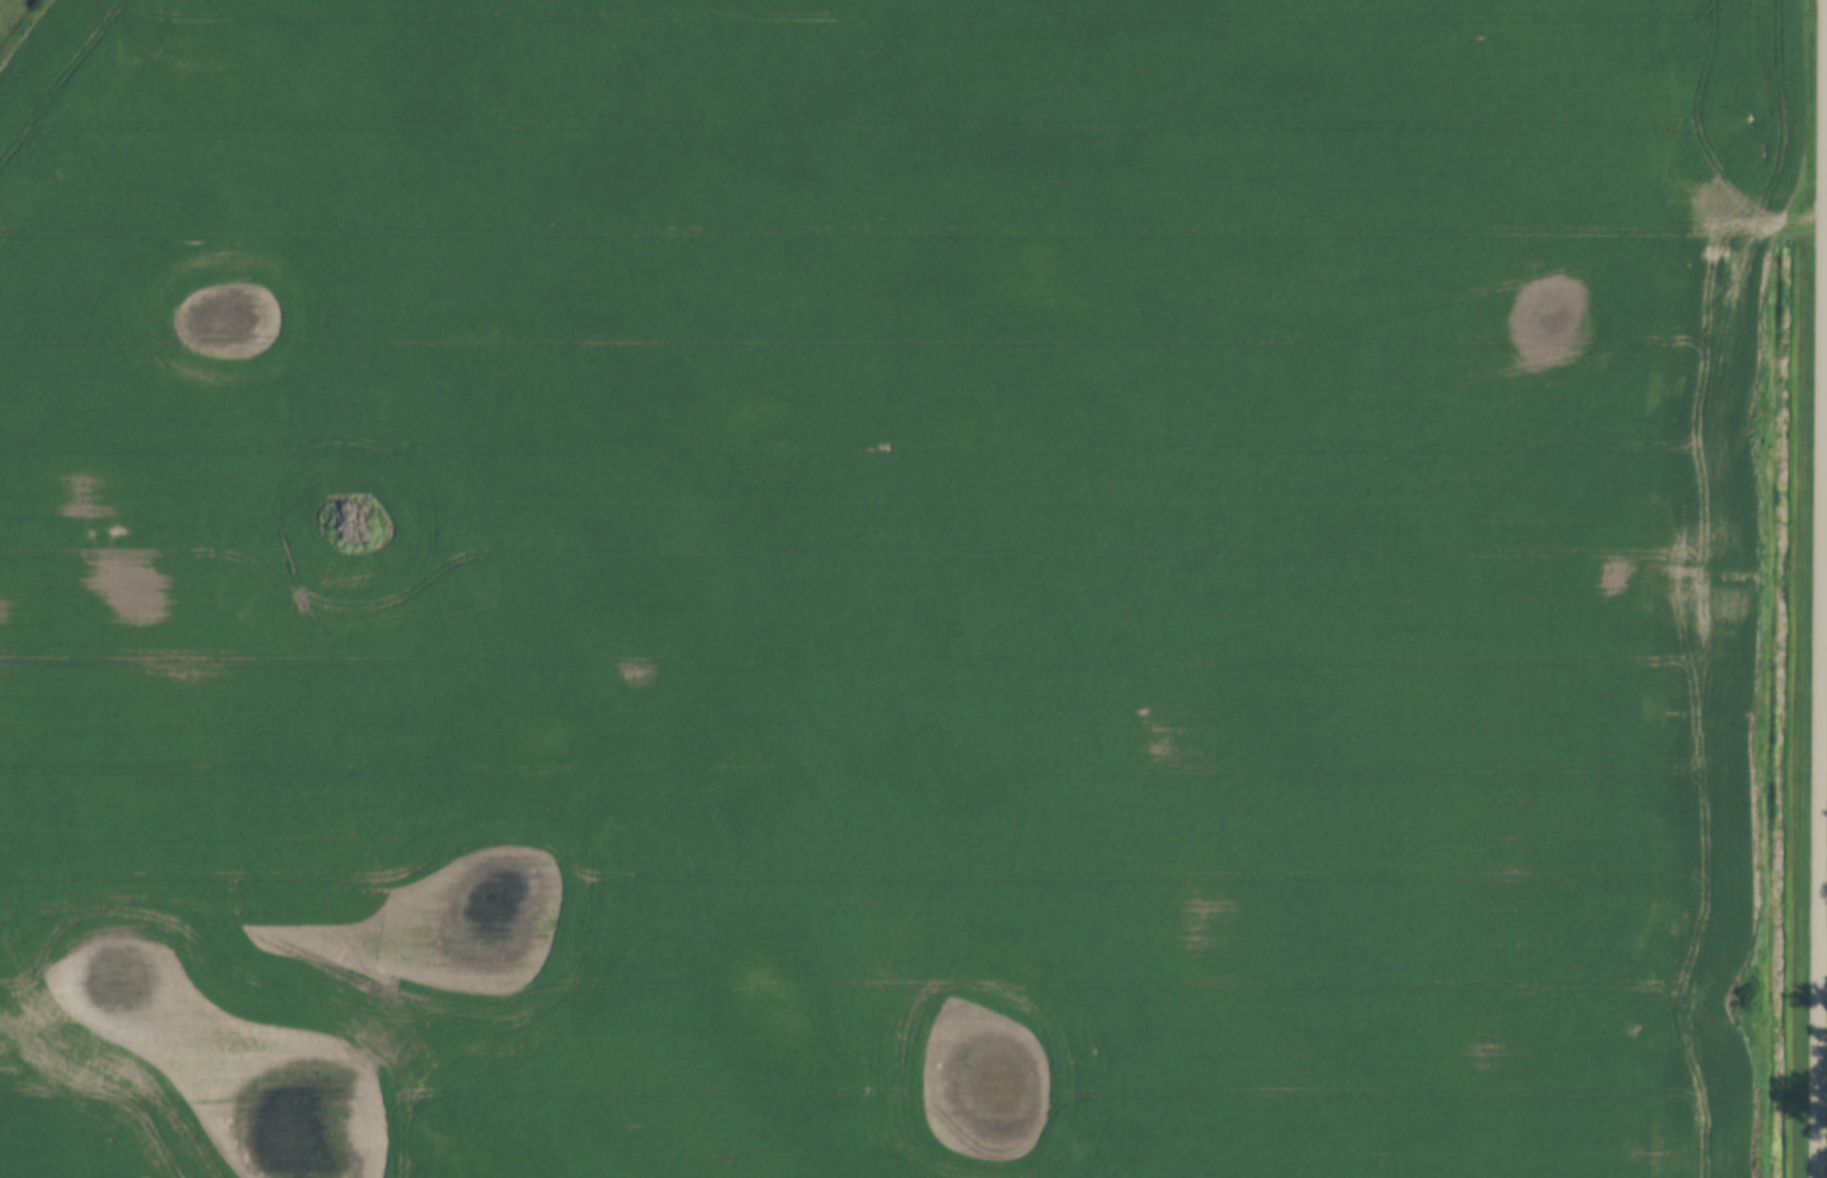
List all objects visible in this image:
road: (1700, 32)
road: (1822, 588)
road: (1825, 960)

